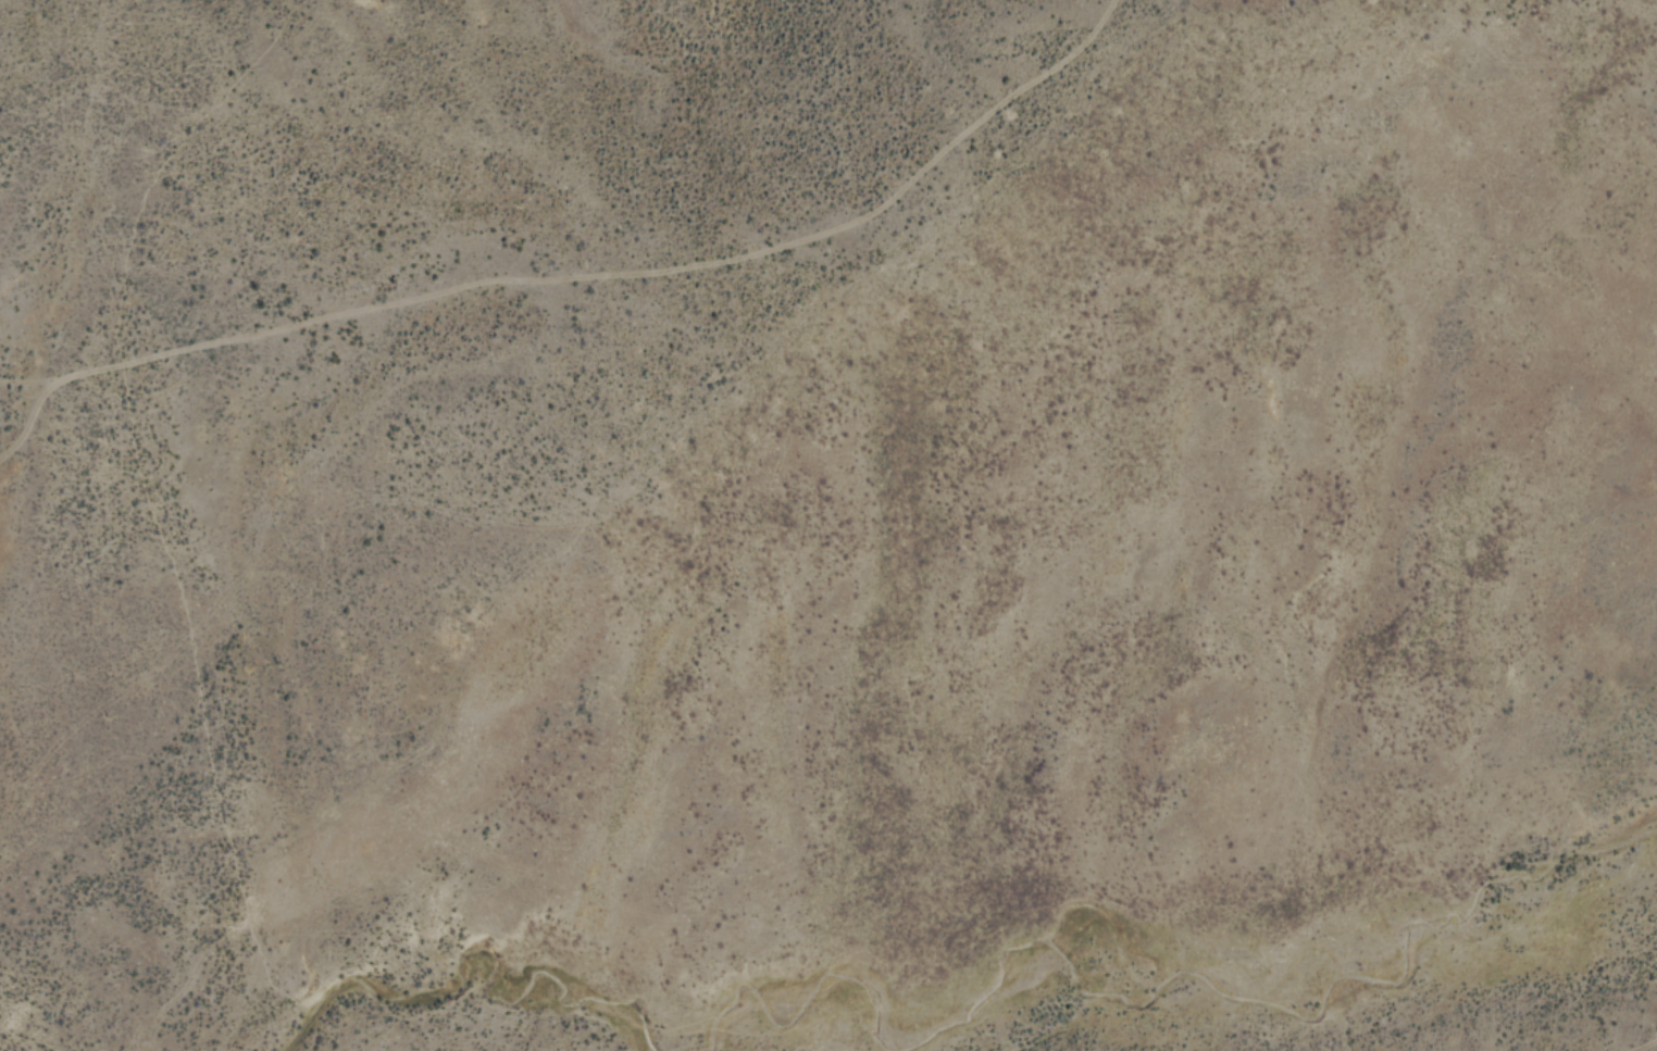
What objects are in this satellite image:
road: (1652, 1046)

